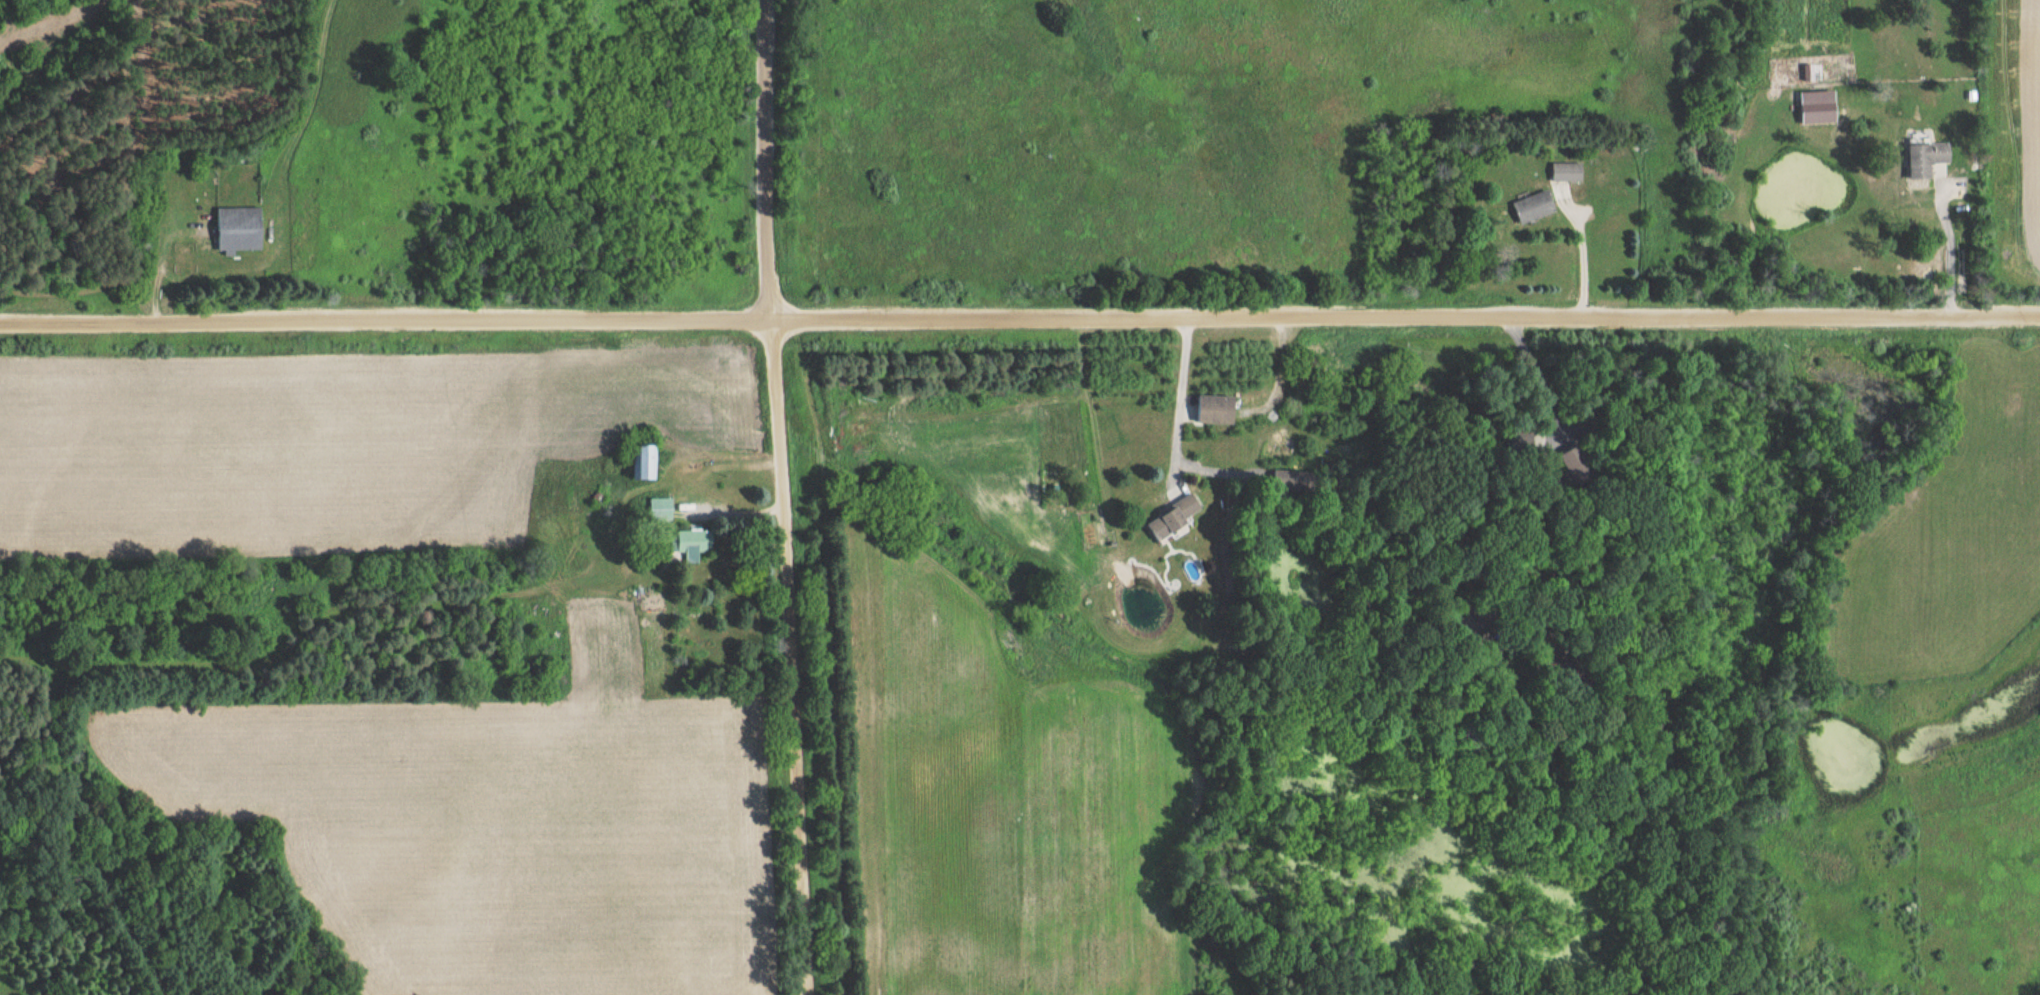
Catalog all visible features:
building: (1821, 107)
building: (1929, 161)
building: (1567, 171)
building: (1535, 206)
building: (240, 229)
road: (1950, 240)
road: (1020, 320)
road: (1541, 377)
road: (1181, 393)
building: (1216, 409)
building: (1526, 438)
building: (647, 460)
road: (782, 497)
building: (664, 507)
building: (1175, 517)
building: (696, 541)

